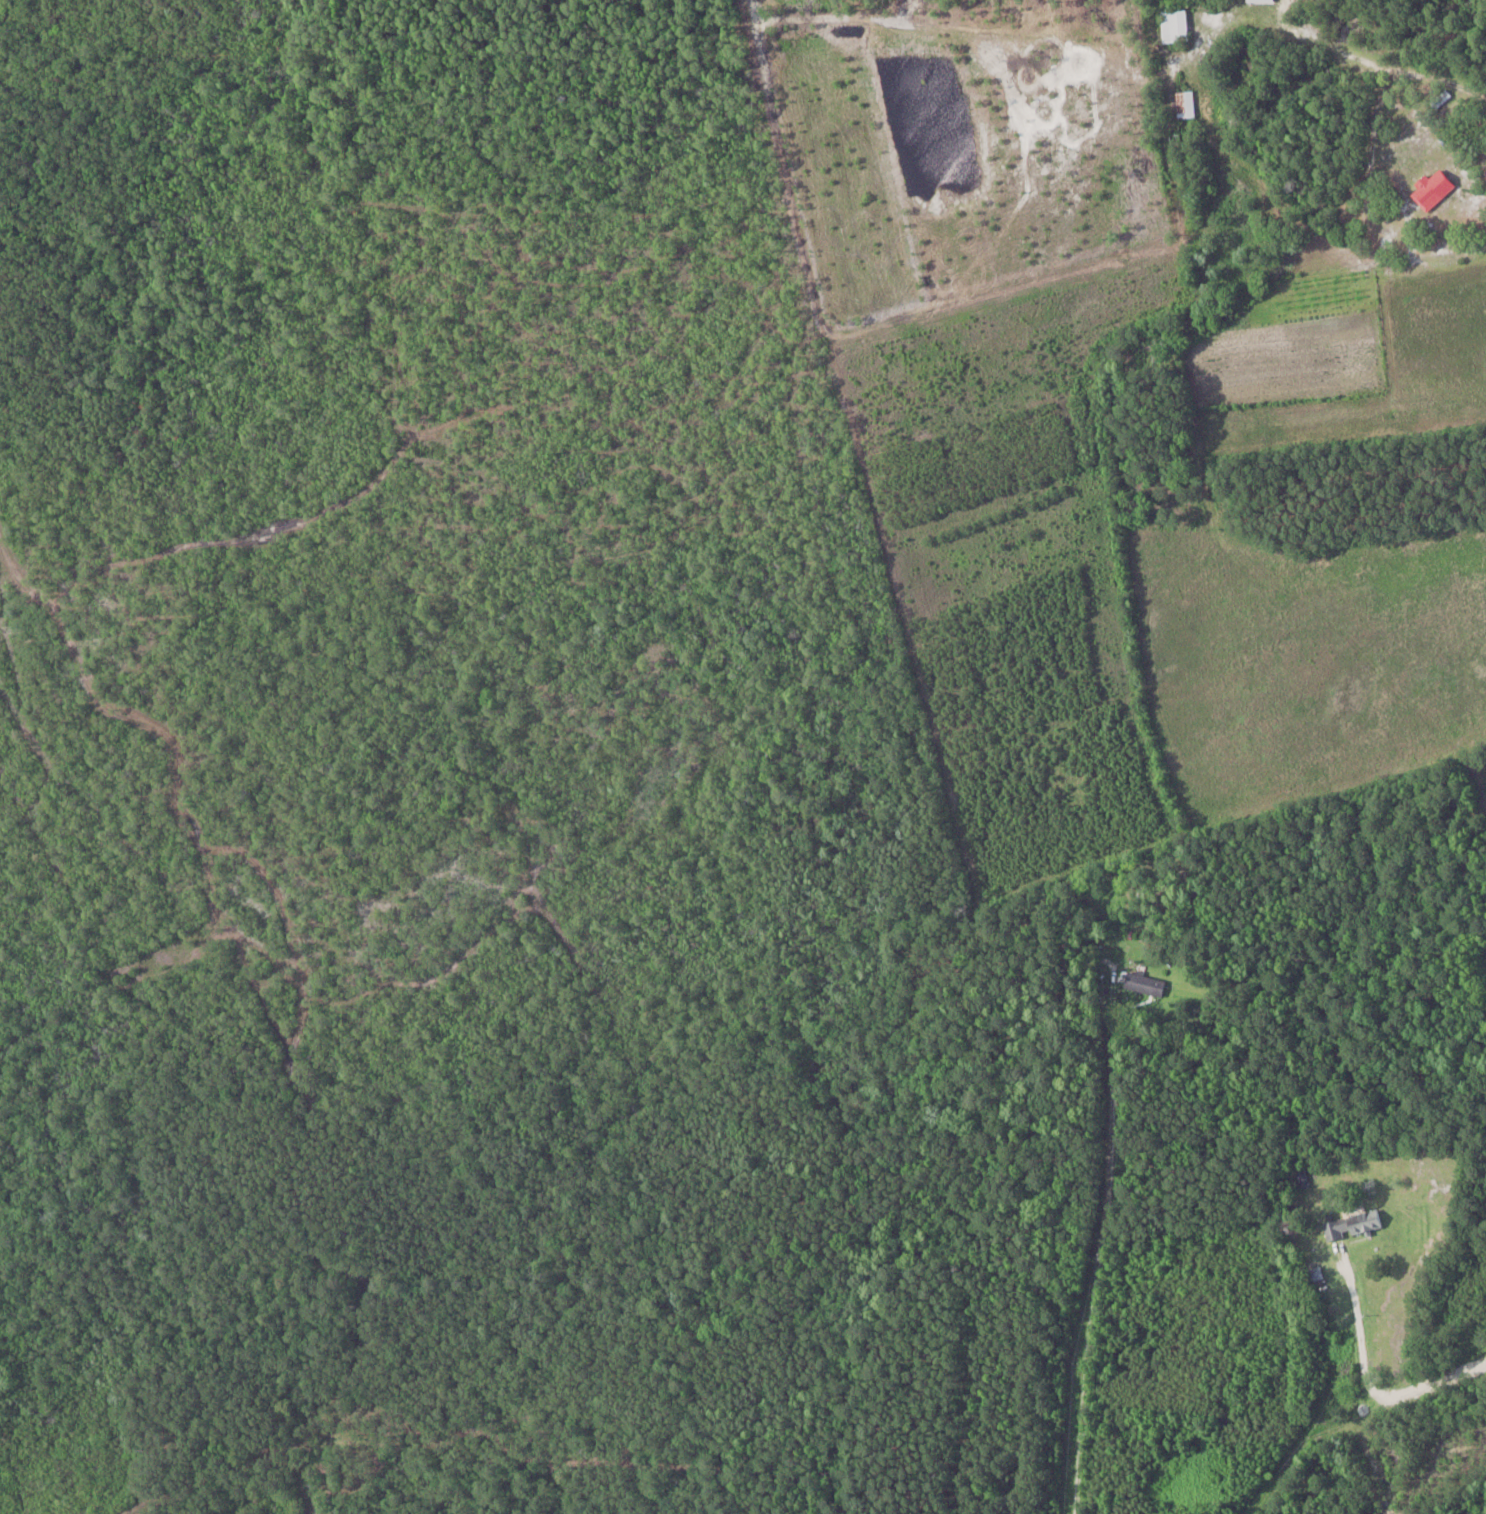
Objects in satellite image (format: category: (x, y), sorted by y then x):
building: (1174, 26)
building: (1440, 98)
building: (1185, 104)
building: (1432, 189)
building: (1144, 984)
building: (1352, 1224)
road: (1090, 1264)
road: (1354, 1323)
road: (1402, 1386)

